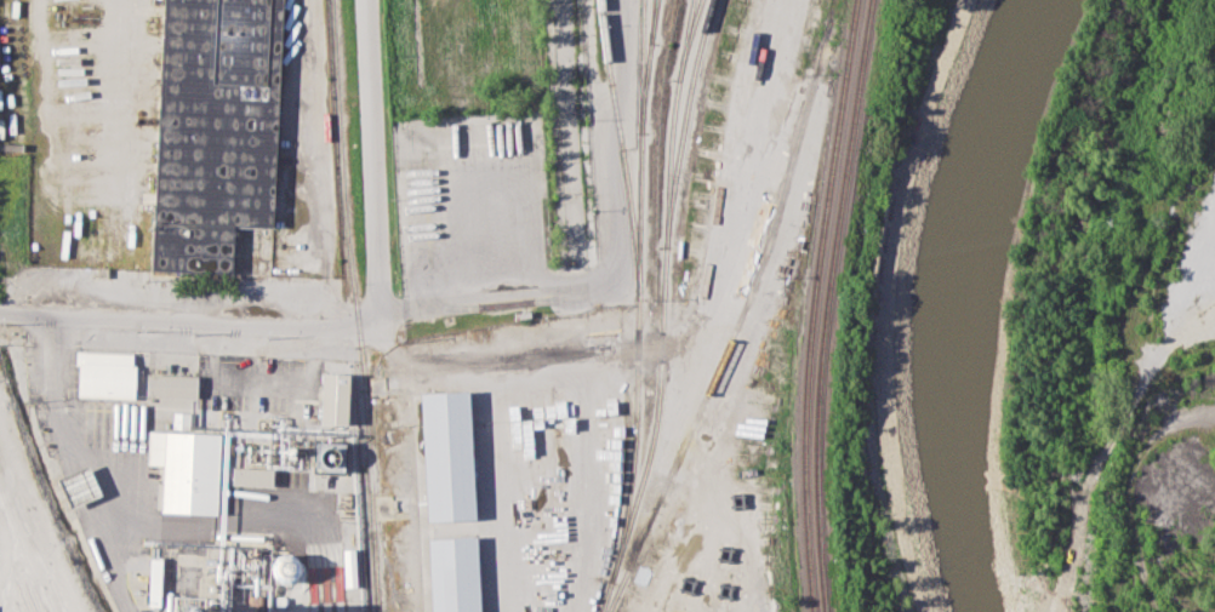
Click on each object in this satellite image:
railway: (652, 21)
railway: (686, 33)
railway: (646, 69)
road: (120, 86)
railway: (684, 121)
building: (216, 130)
railway: (638, 147)
road: (316, 164)
road: (372, 188)
road: (572, 242)
railway: (663, 288)
river: (968, 301)
railway: (811, 304)
railway: (826, 304)
railway: (359, 305)
railway: (637, 307)
railway: (741, 313)
road: (155, 321)
building: (105, 374)
road: (261, 381)
building: (171, 384)
building: (340, 397)
road: (68, 431)
building: (454, 457)
building: (333, 458)
building: (186, 470)
building: (256, 476)
building: (78, 486)
road: (261, 517)
railway: (30, 531)
railway: (24, 547)
road: (114, 567)
building: (287, 568)
building: (460, 573)
building: (154, 580)

